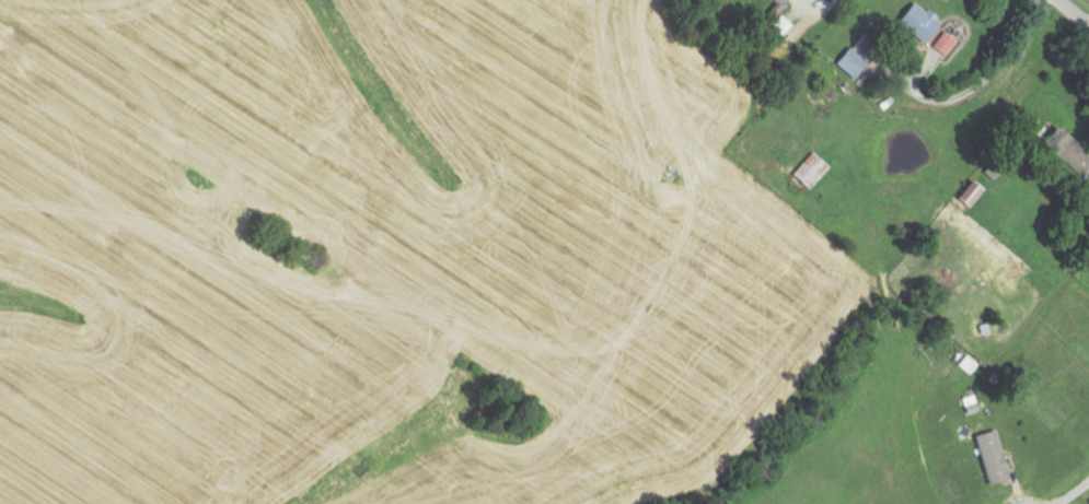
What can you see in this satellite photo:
road: (815, 11)
road: (1074, 12)
building: (922, 24)
building: (946, 45)
building: (859, 56)
building: (813, 172)
building: (975, 195)
building: (995, 458)
road: (1075, 495)

